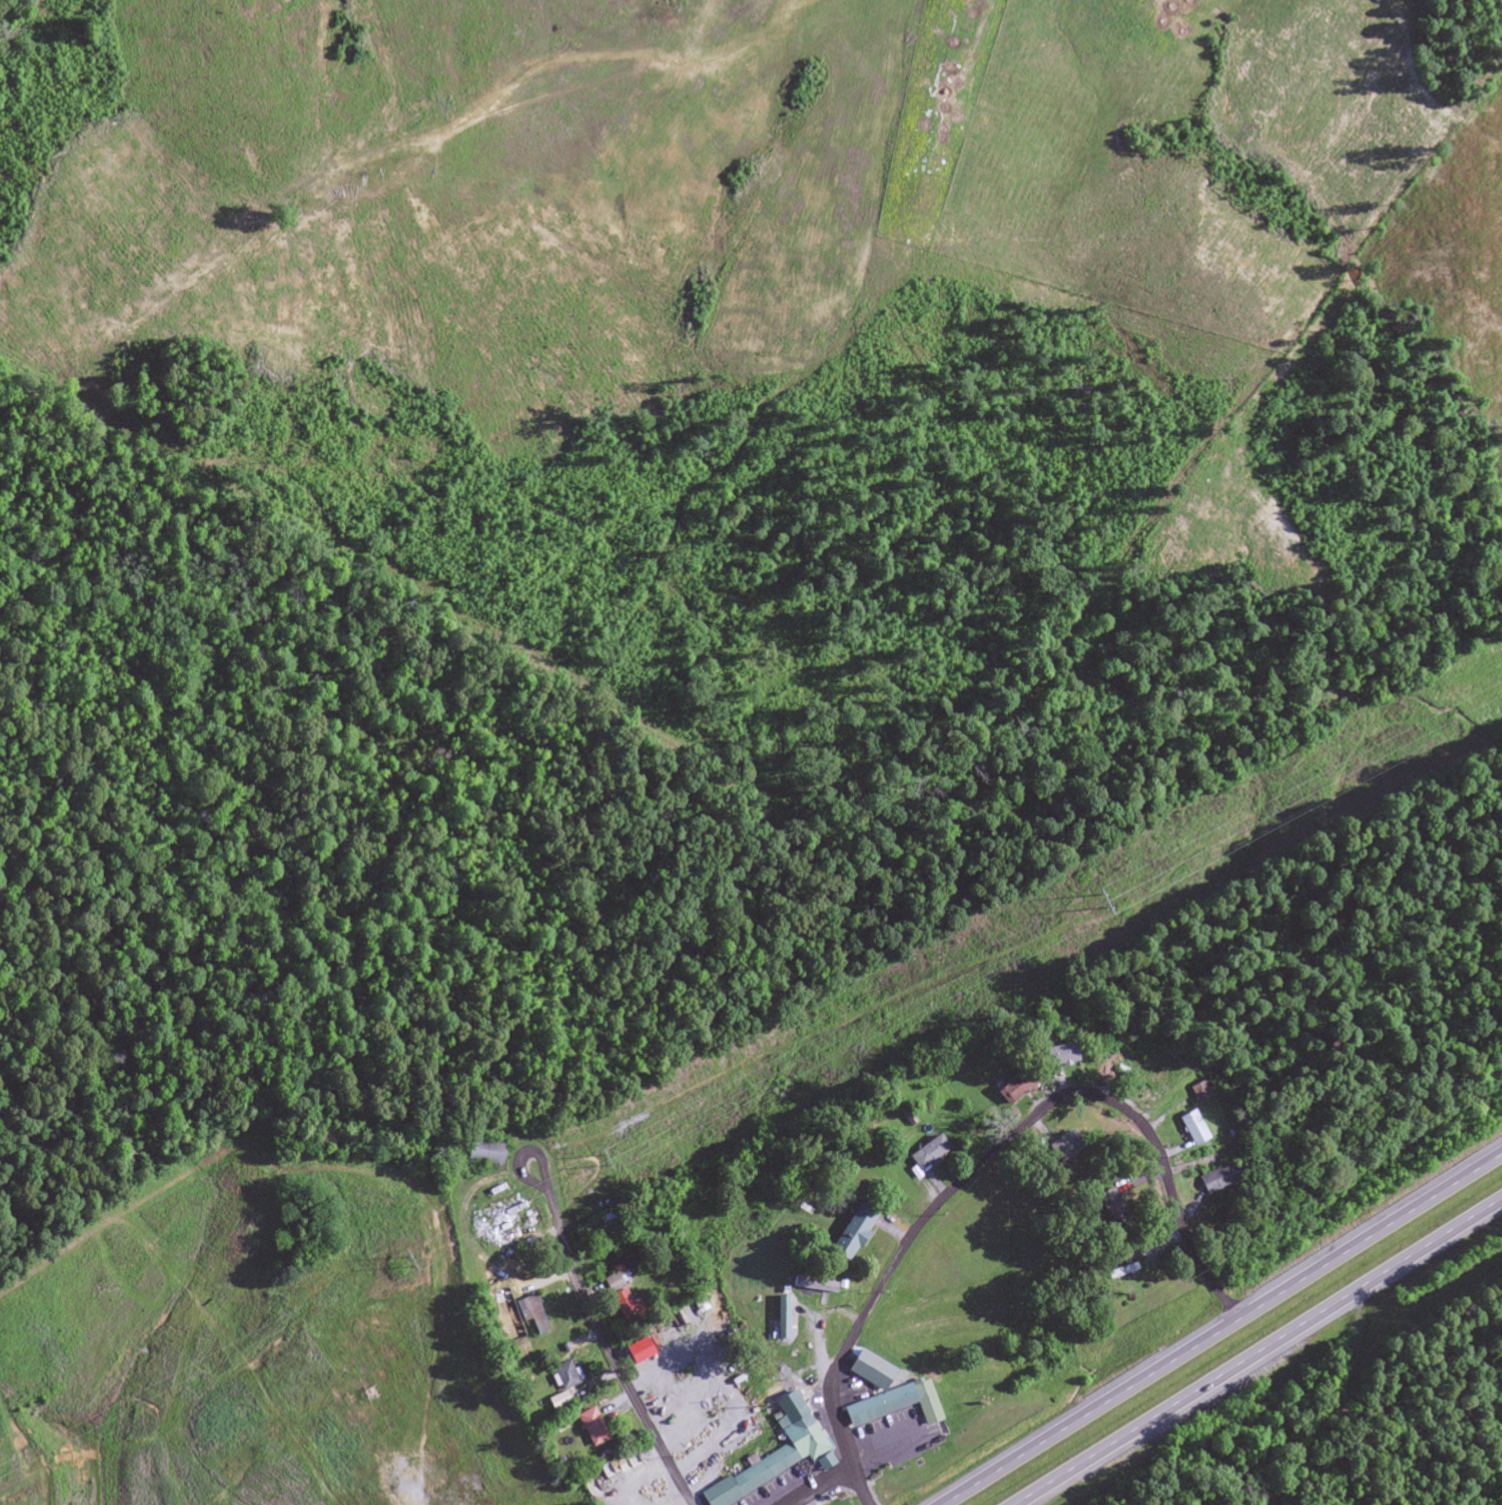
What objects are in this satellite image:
power tower: (1099, 902)
building: (1063, 1054)
building: (1020, 1081)
building: (1198, 1130)
building: (1071, 1146)
building: (486, 1150)
building: (933, 1155)
power tower: (604, 1161)
building: (1226, 1179)
road: (1173, 1190)
building: (1118, 1203)
building: (612, 1217)
building: (859, 1234)
power tower: (410, 1263)
road: (890, 1266)
building: (1128, 1273)
building: (623, 1300)
building: (784, 1313)
building: (534, 1316)
road: (1221, 1329)
building: (784, 1332)
road: (598, 1343)
road: (1261, 1353)
building: (564, 1371)
building: (900, 1371)
building: (653, 1375)
building: (560, 1398)
building: (880, 1402)
building: (593, 1424)
building: (780, 1461)
road: (823, 1487)

